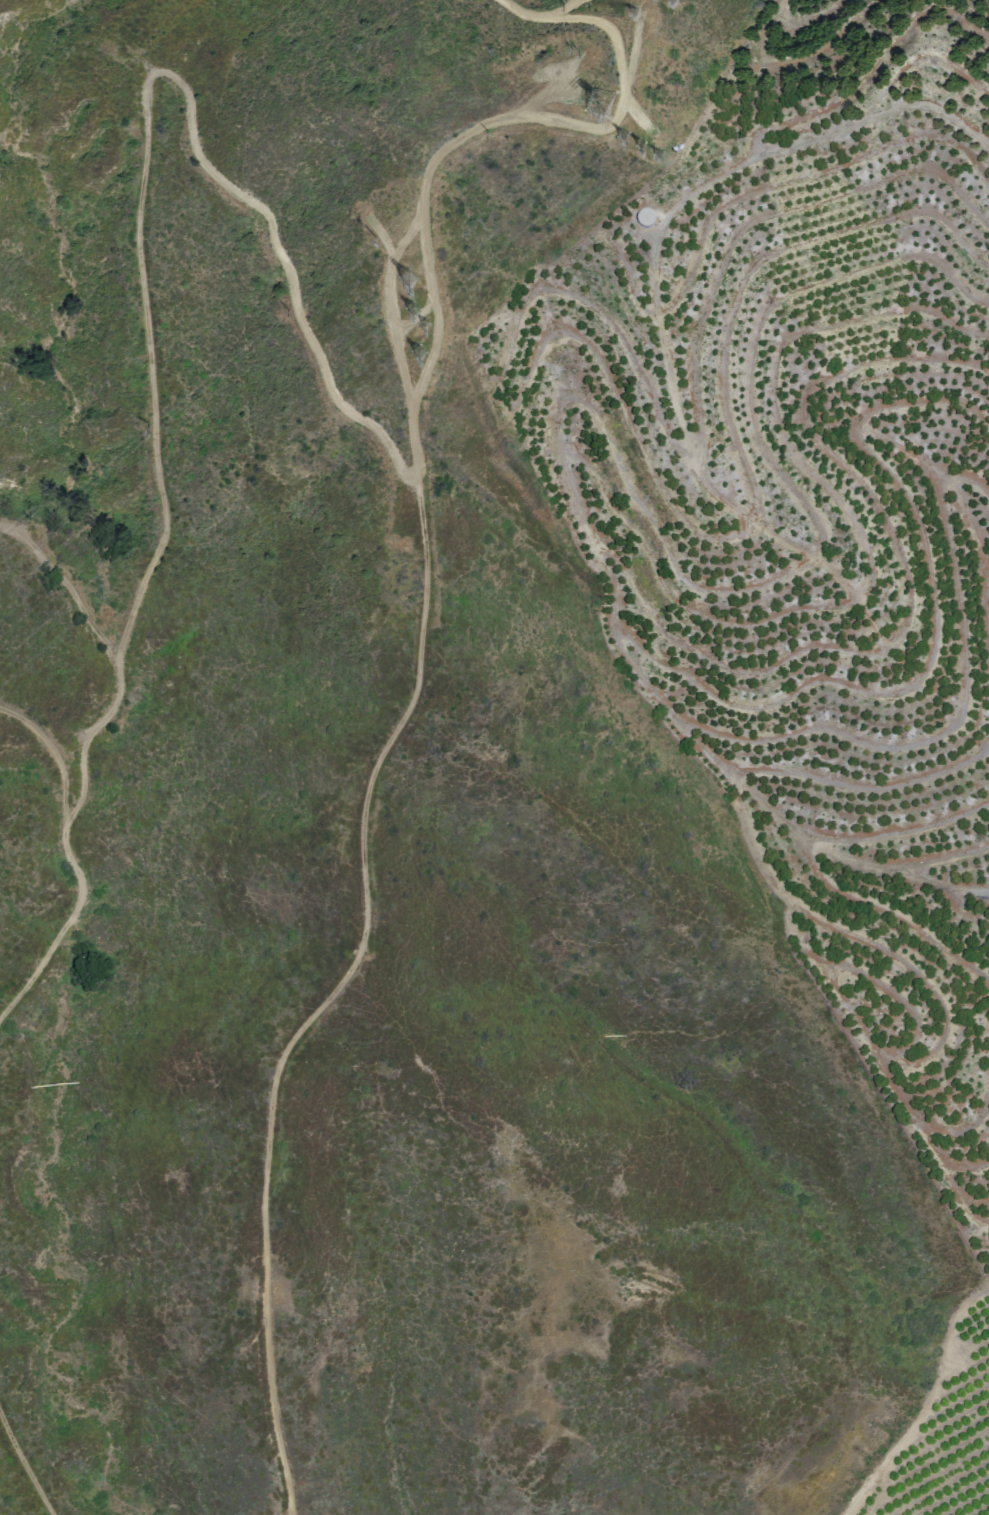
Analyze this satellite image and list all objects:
power tower: (669, 1)
power tower: (632, 10)
power tower: (598, 102)
power tower: (622, 134)
power tower: (641, 146)
power tower: (654, 154)
power tower: (406, 275)
power tower: (416, 306)
power tower: (422, 323)
power tower: (417, 353)

